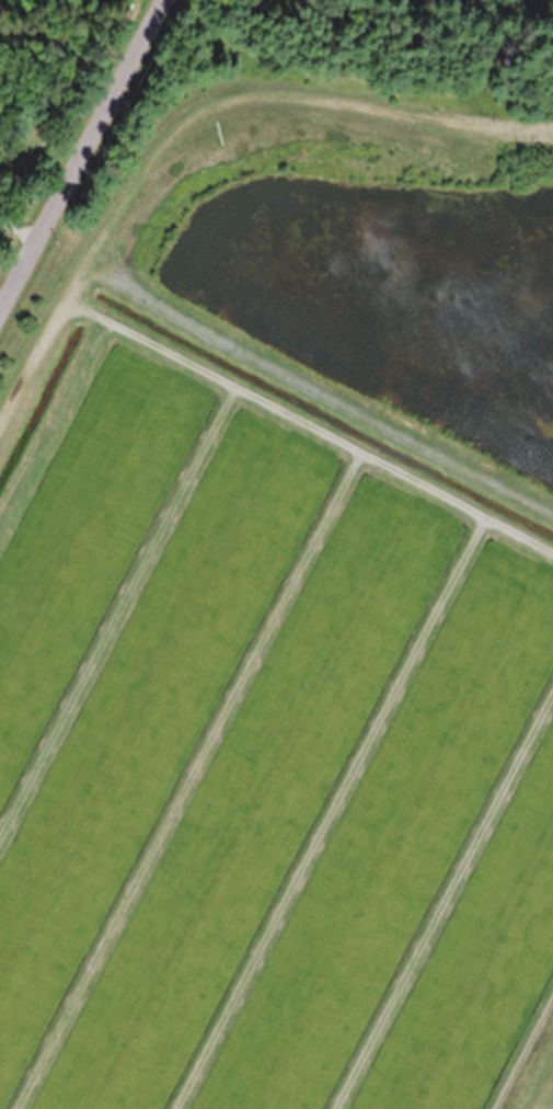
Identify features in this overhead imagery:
road: (83, 159)
crop: (261, 733)

